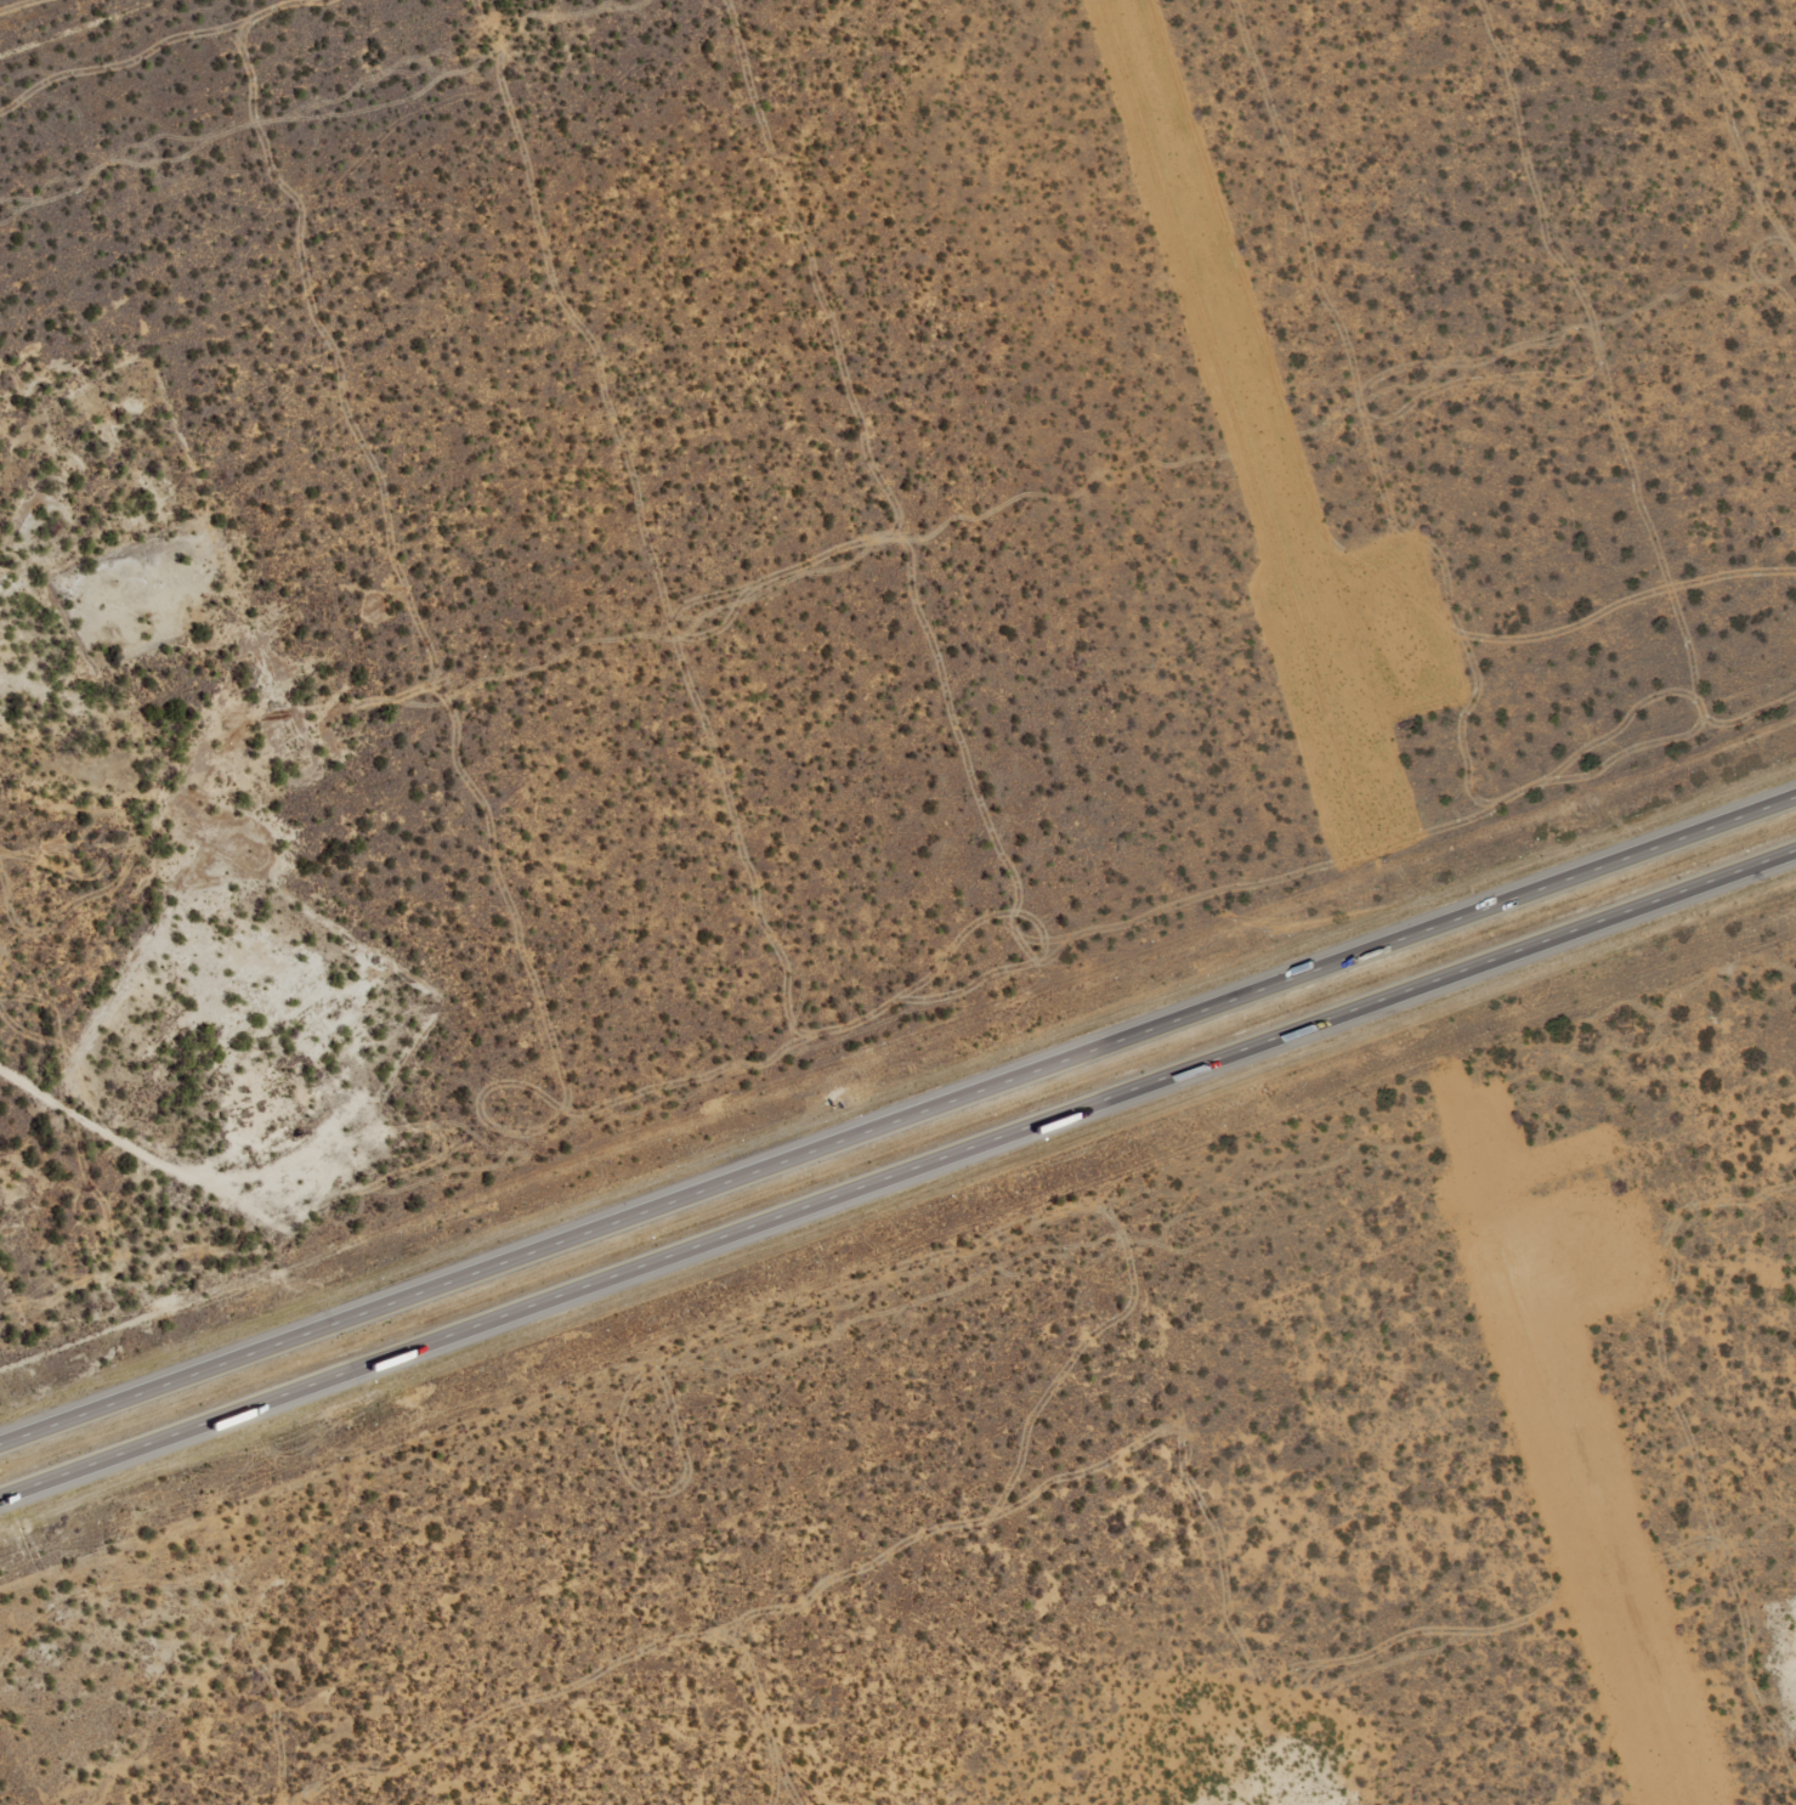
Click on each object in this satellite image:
road: (129, 44)
road: (897, 1120)
road: (897, 1171)

